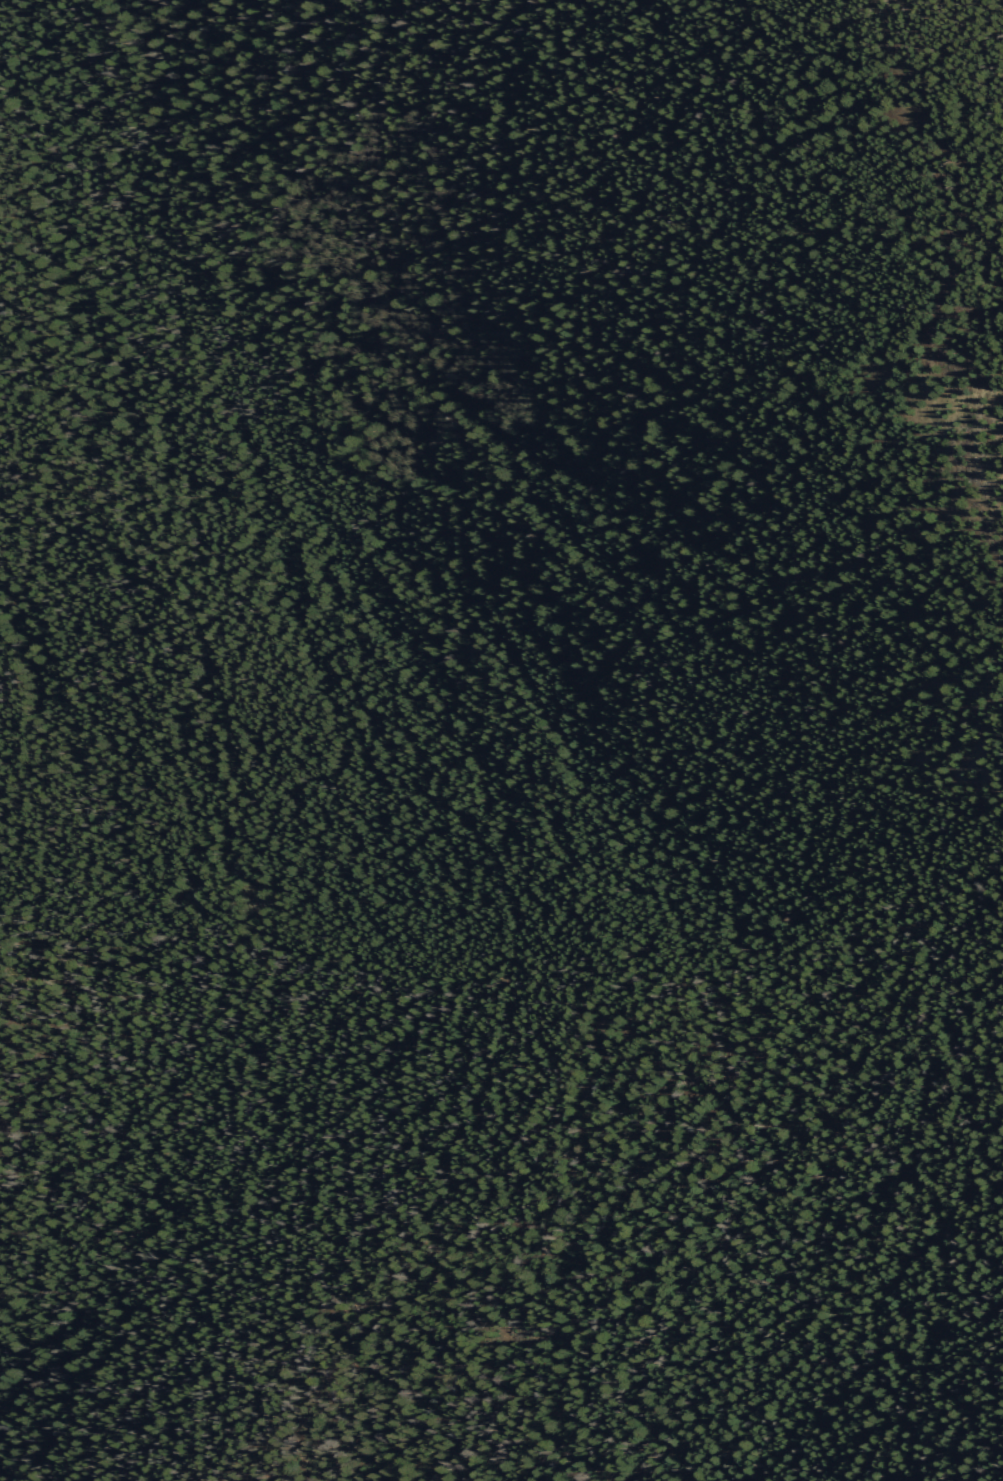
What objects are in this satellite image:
ski resort: (956, 233)

